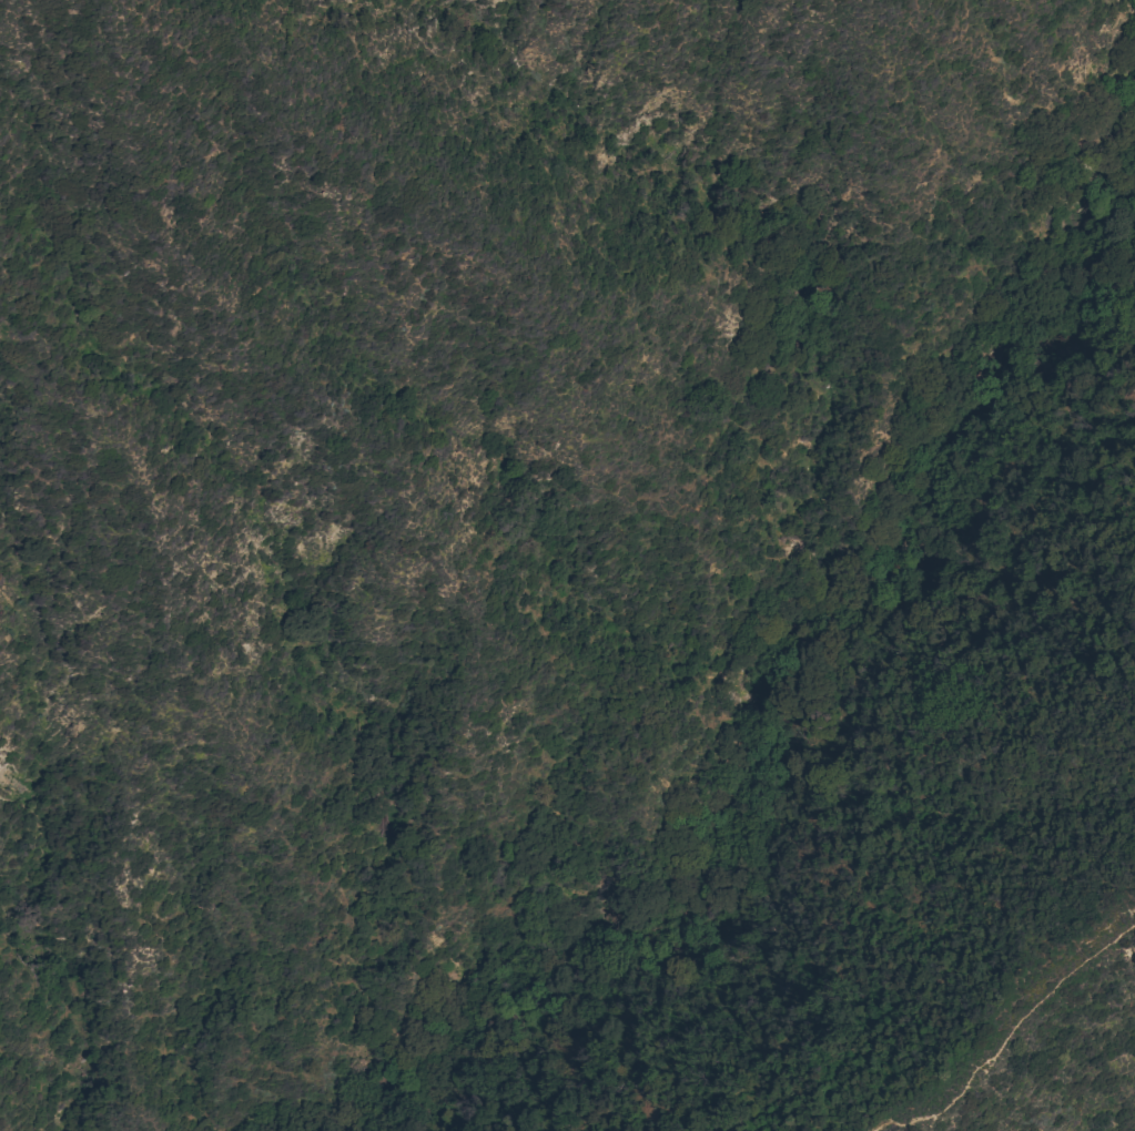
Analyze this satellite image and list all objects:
road: (1009, 1018)

